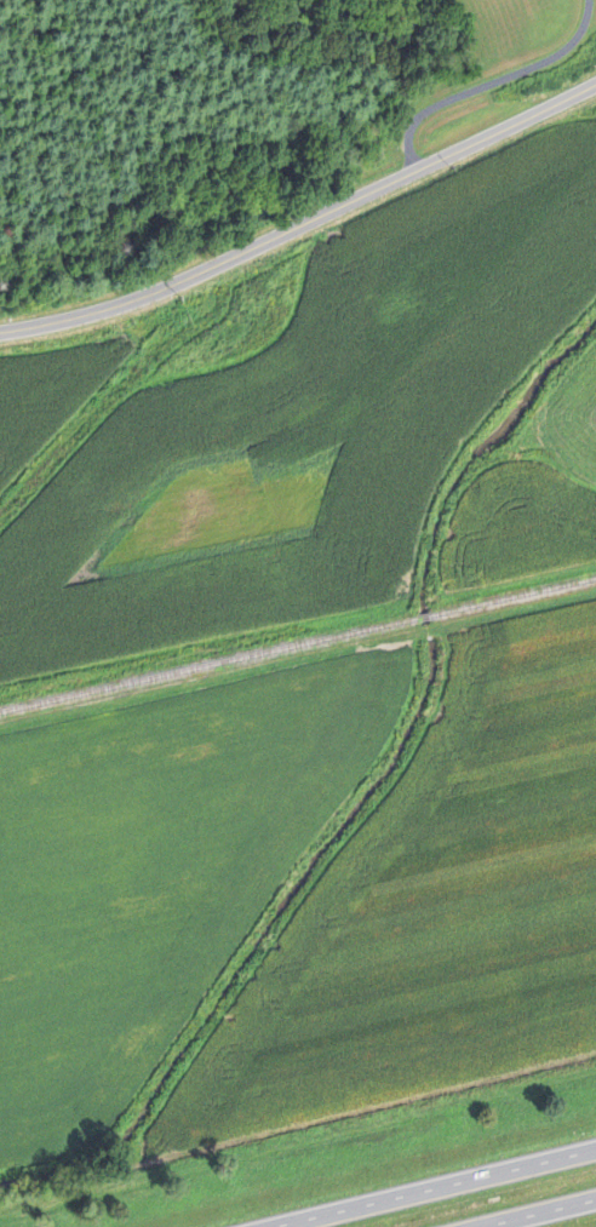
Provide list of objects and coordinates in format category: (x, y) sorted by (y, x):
road: (304, 220)
crop: (53, 382)
crop: (311, 426)
railway: (514, 595)
railway: (424, 615)
road: (297, 656)
railway: (207, 665)
crop: (434, 910)
road: (431, 1187)
road: (537, 1212)

